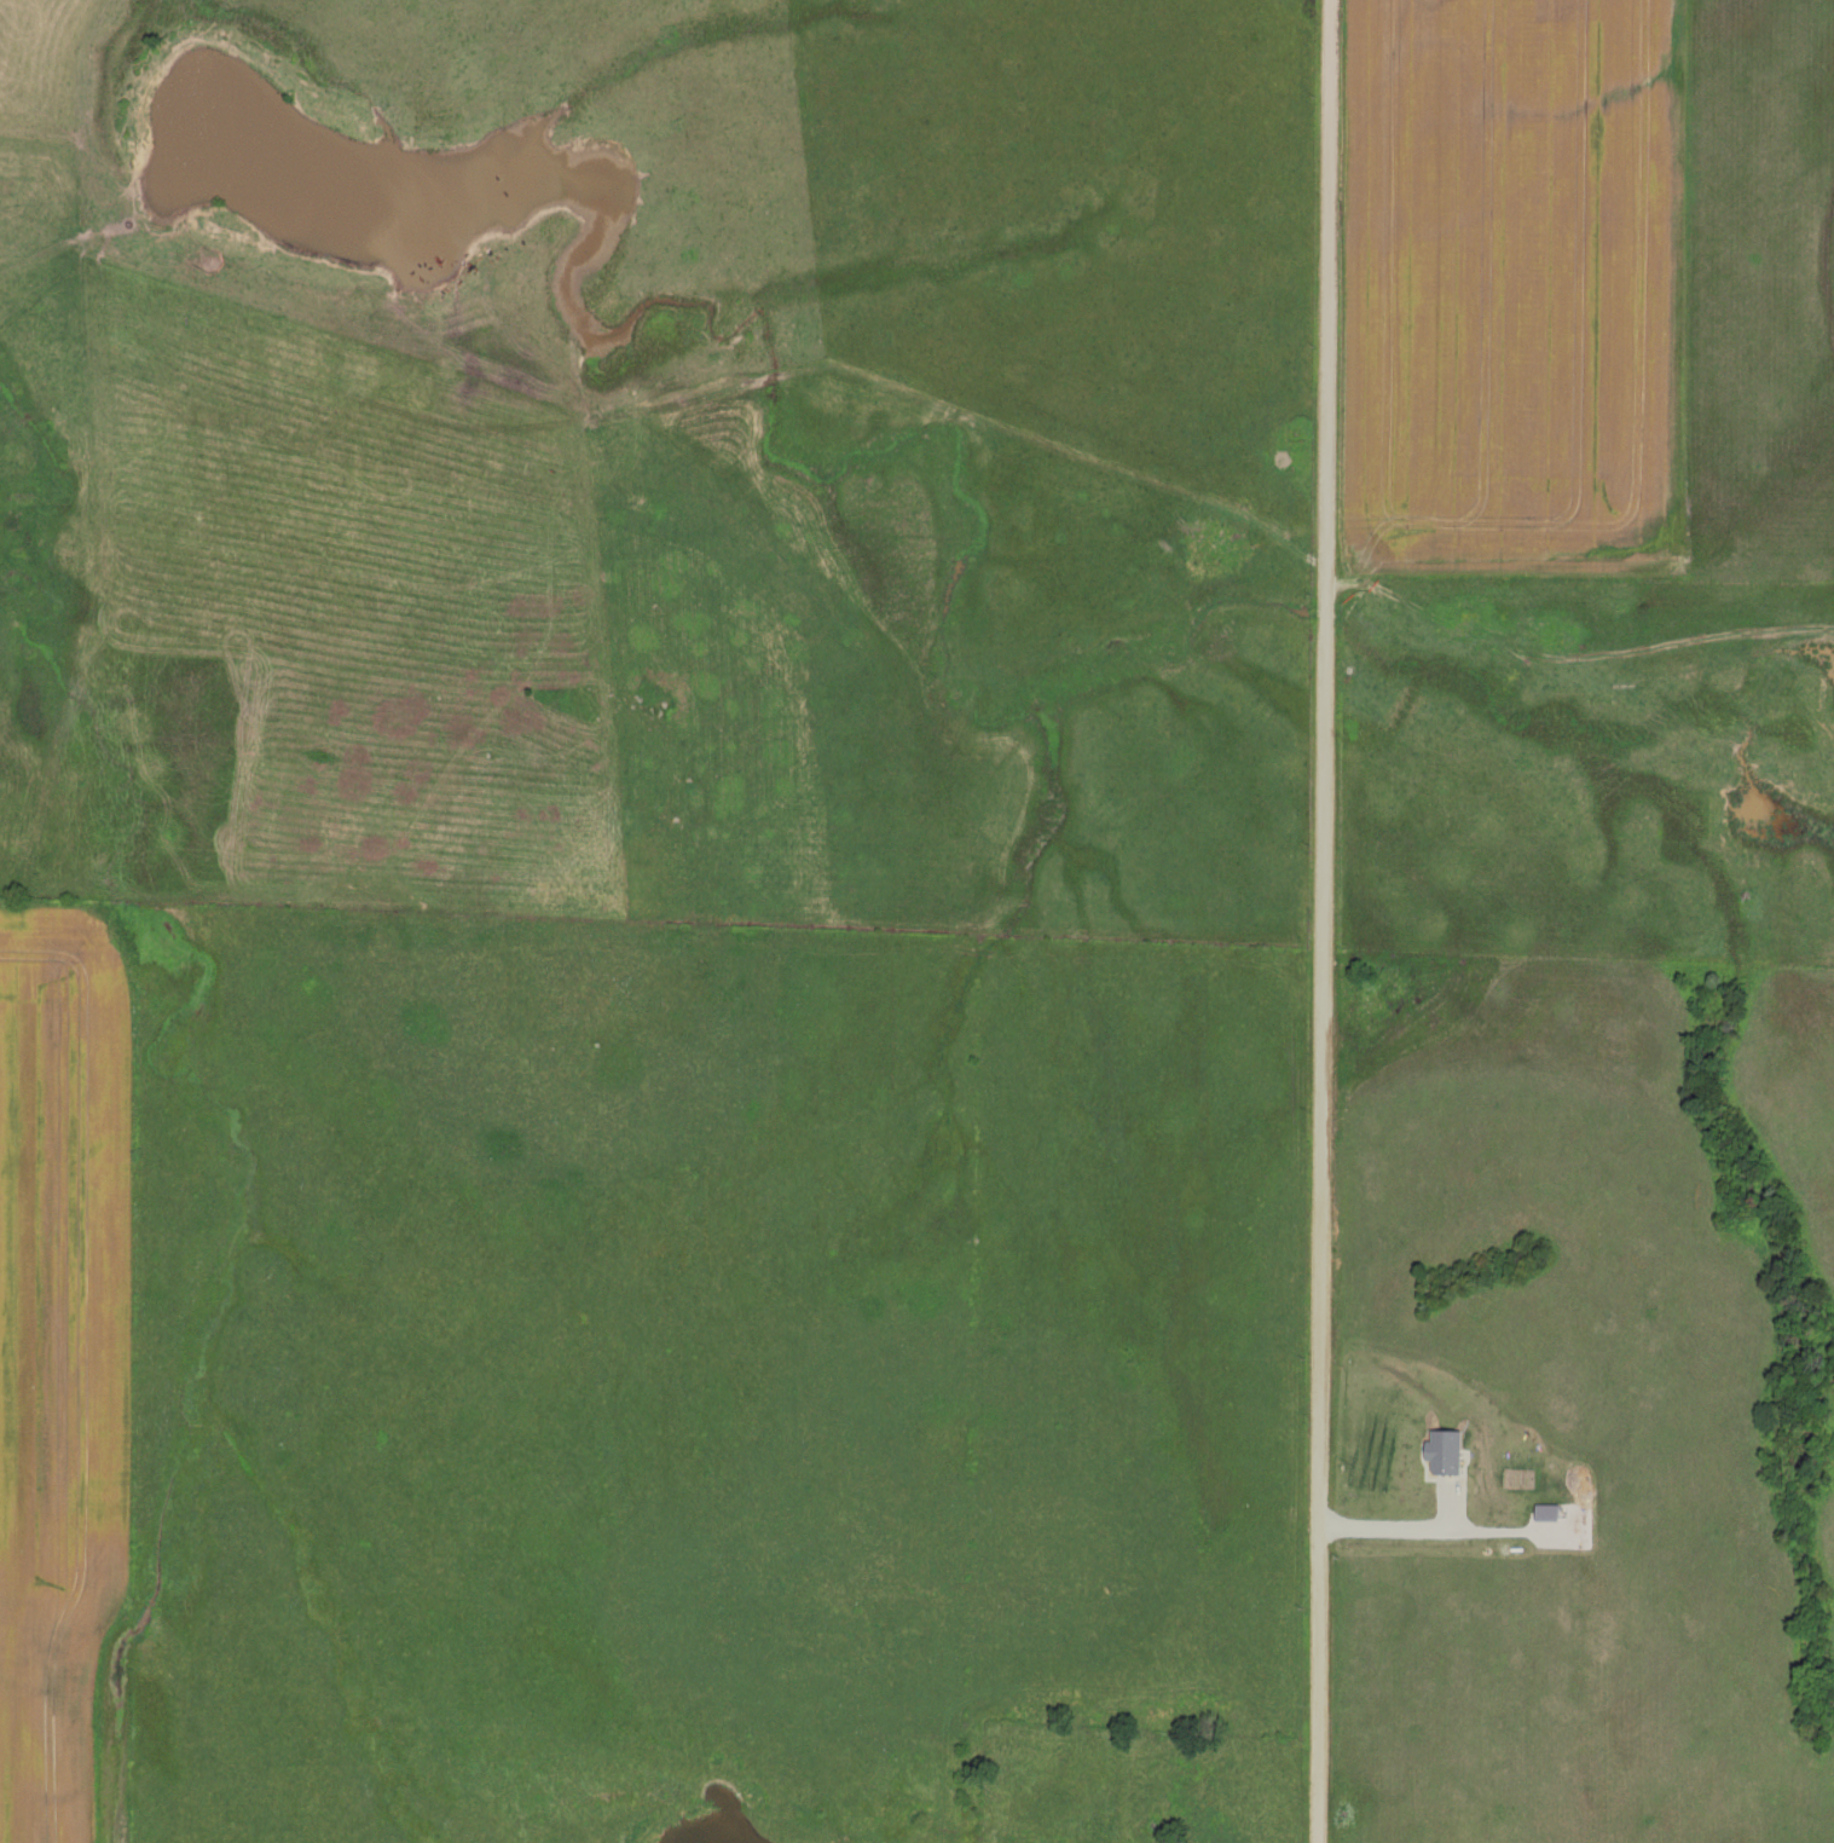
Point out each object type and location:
road: (1321, 920)
building: (1451, 1450)
building: (1552, 1509)

